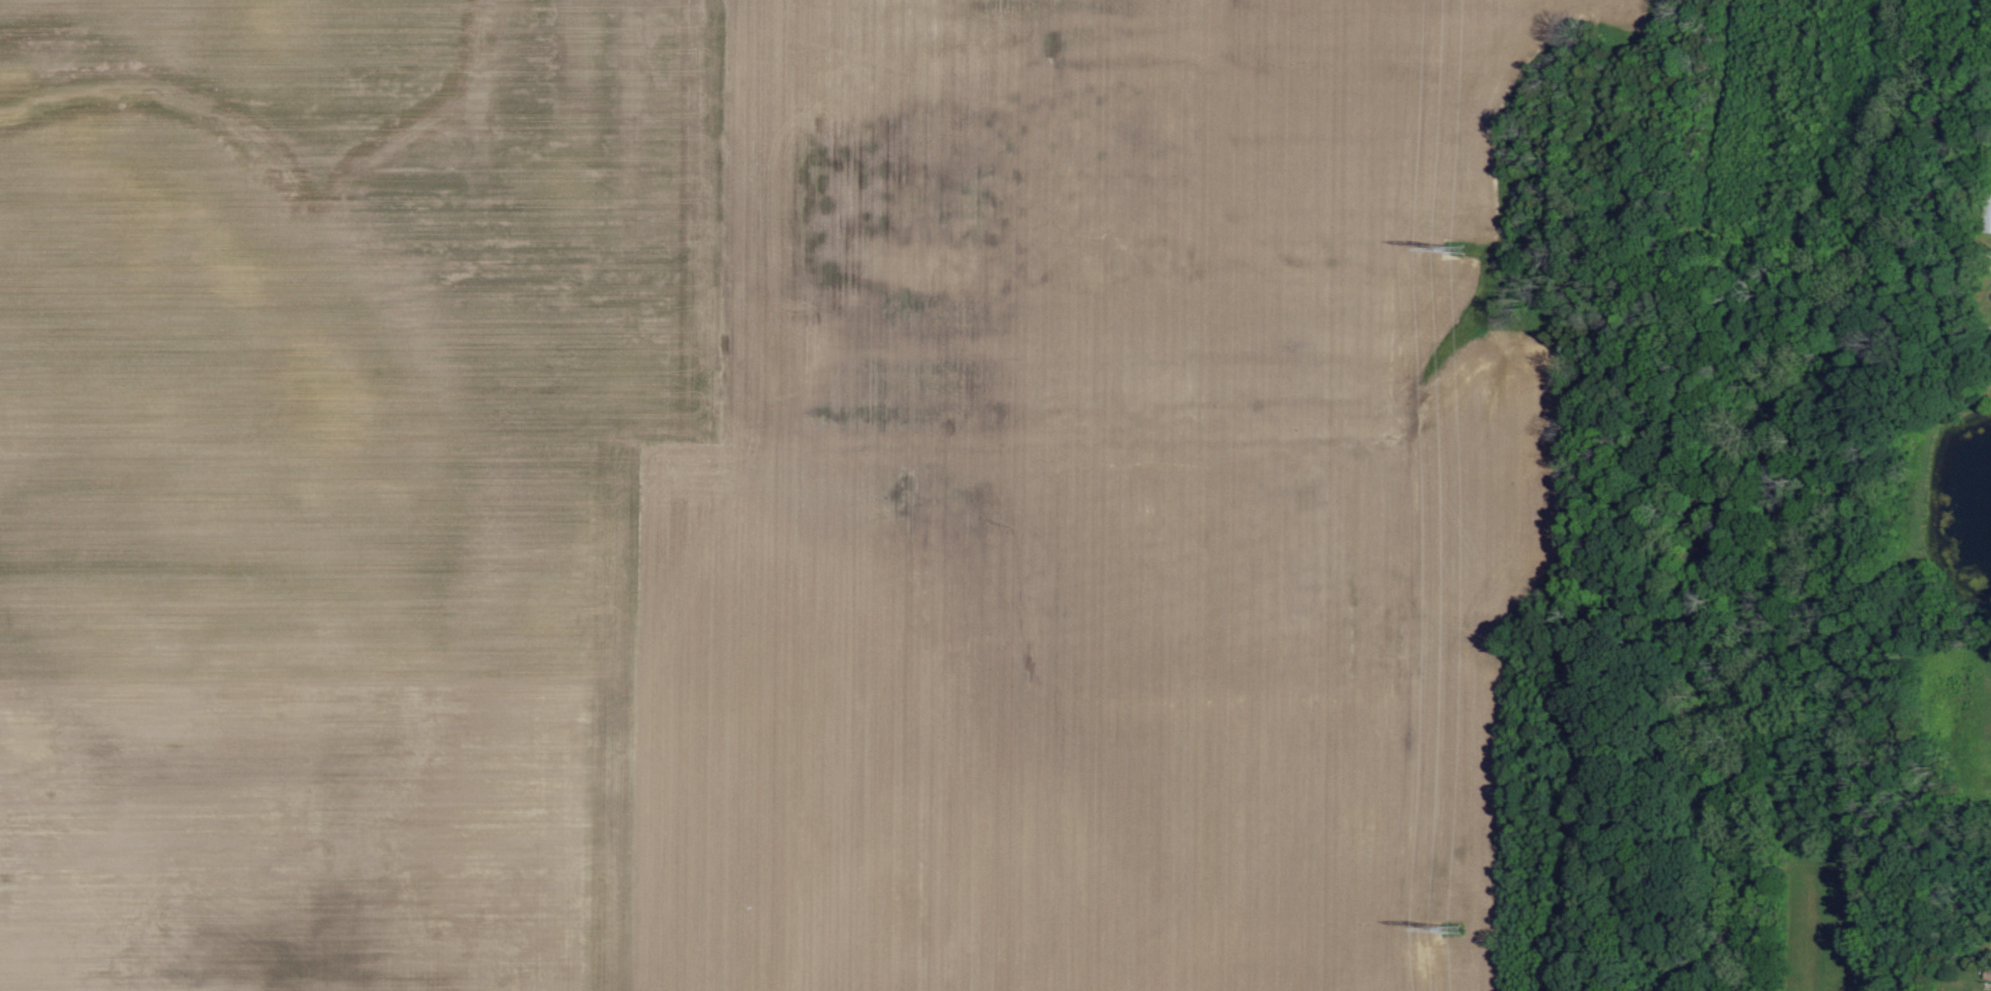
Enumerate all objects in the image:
power tower: (1455, 248)
power tower: (1452, 929)

